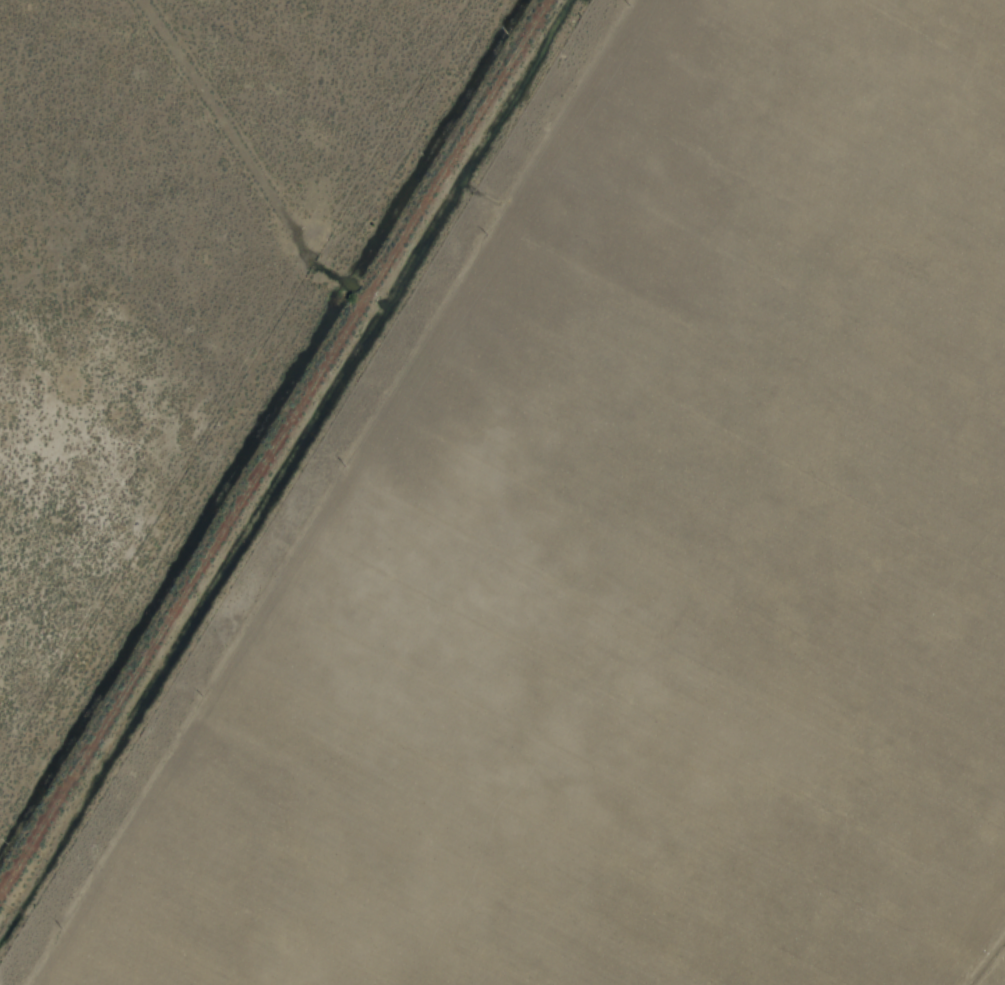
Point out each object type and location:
road: (284, 475)

